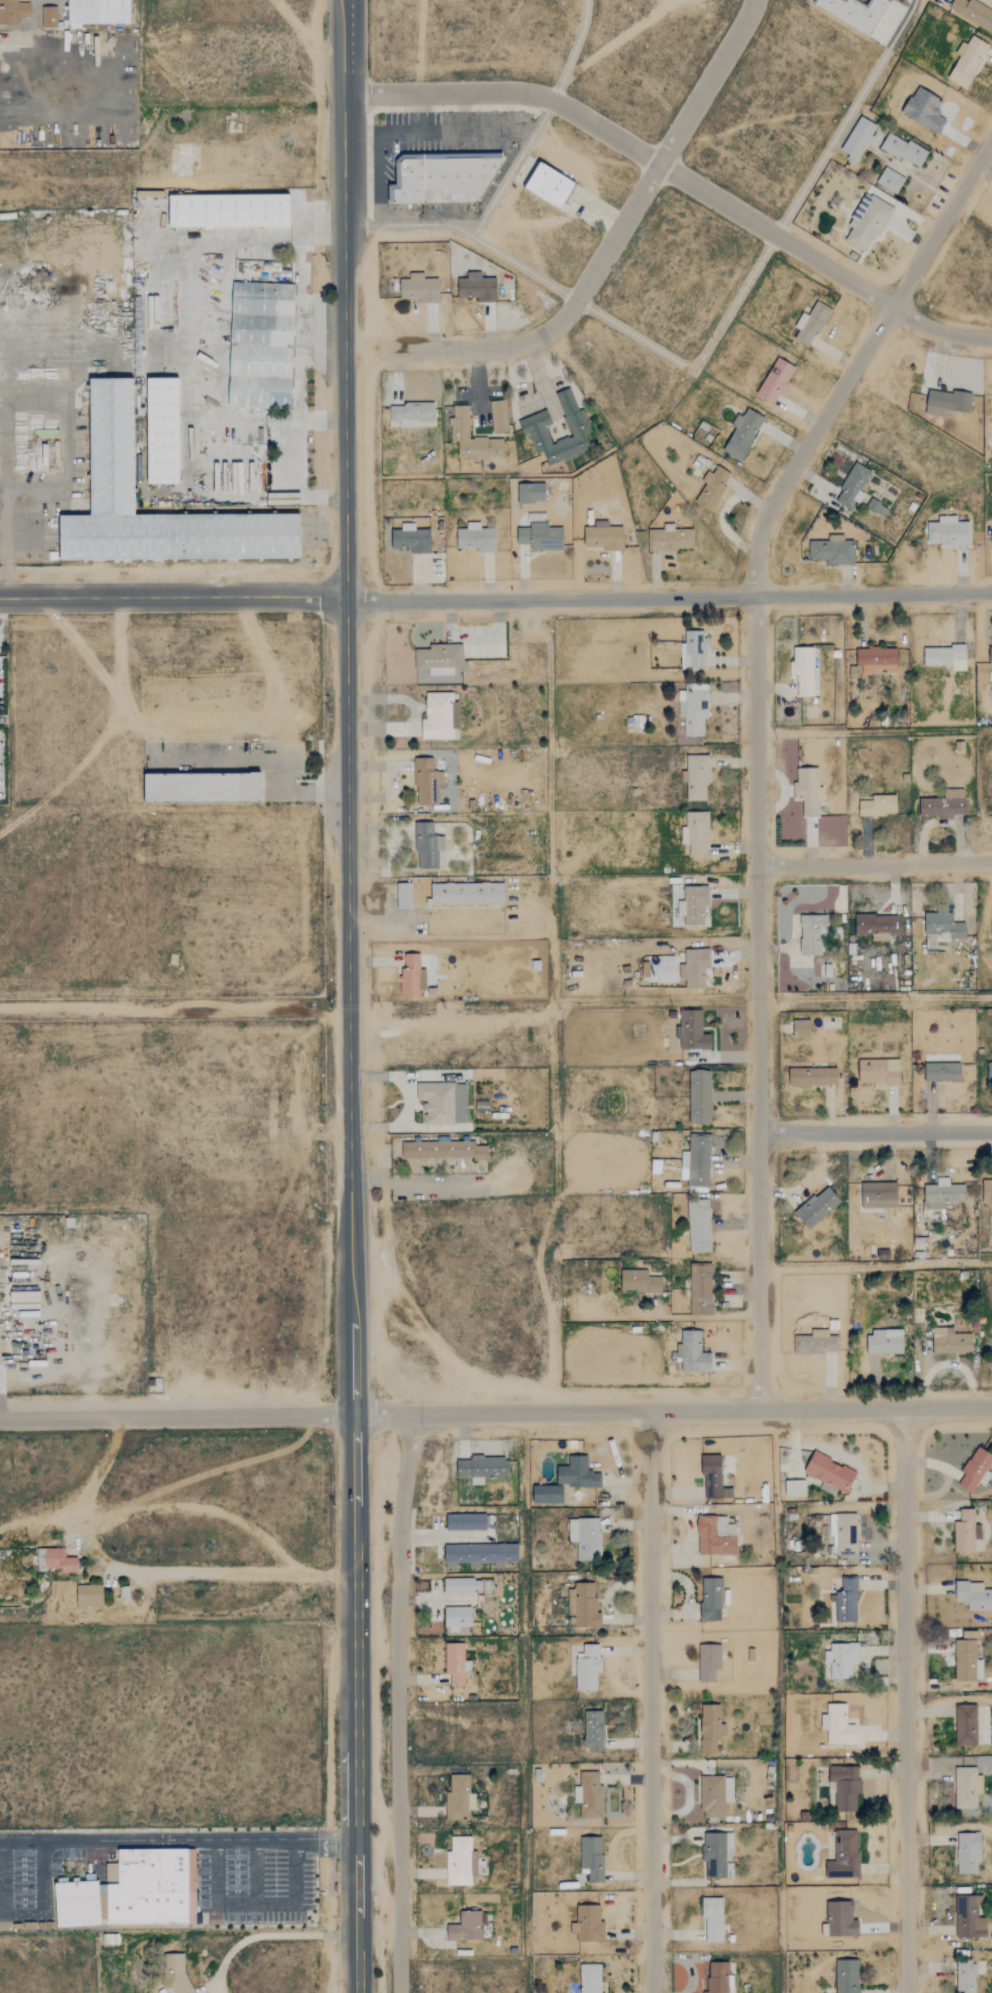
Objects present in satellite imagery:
building: (13, 11)
building: (98, 12)
building: (855, 12)
building: (973, 12)
building: (48, 16)
road: (618, 39)
road: (574, 51)
building: (968, 62)
building: (923, 110)
road: (846, 117)
building: (857, 138)
building: (904, 149)
road: (513, 168)
road: (680, 174)
building: (443, 177)
building: (890, 180)
building: (549, 185)
building: (229, 210)
building: (866, 222)
road: (601, 256)
building: (477, 287)
building: (419, 288)
road: (346, 299)
road: (594, 312)
building: (811, 323)
building: (260, 345)
building: (775, 380)
building: (946, 401)
building: (411, 413)
building: (498, 415)
building: (459, 427)
building: (535, 429)
building: (162, 430)
building: (742, 433)
building: (111, 444)
building: (853, 485)
building: (712, 487)
building: (531, 492)
road: (7, 506)
building: (948, 532)
building: (541, 536)
building: (603, 536)
building: (991, 537)
building: (476, 538)
building: (410, 539)
building: (671, 539)
building: (832, 550)
road: (668, 597)
road: (173, 598)
building: (693, 650)
building: (990, 655)
building: (946, 657)
building: (876, 659)
building: (439, 664)
building: (803, 670)
building: (855, 672)
building: (693, 708)
building: (439, 716)
road: (756, 743)
road: (260, 762)
building: (697, 777)
building: (425, 781)
building: (202, 787)
building: (808, 790)
building: (877, 805)
building: (944, 805)
building: (695, 832)
building: (427, 846)
road: (874, 864)
building: (467, 894)
building: (403, 896)
road: (384, 904)
building: (694, 905)
building: (878, 924)
building: (944, 924)
building: (813, 934)
building: (694, 967)
building: (411, 977)
road: (875, 997)
road: (174, 1013)
building: (801, 1028)
building: (692, 1031)
building: (989, 1071)
building: (878, 1072)
building: (942, 1072)
building: (812, 1076)
building: (699, 1098)
building: (442, 1103)
road: (876, 1131)
building: (443, 1150)
building: (696, 1161)
road: (350, 1171)
road: (416, 1183)
building: (986, 1191)
building: (878, 1195)
building: (939, 1199)
building: (817, 1207)
building: (699, 1226)
road: (876, 1266)
building: (639, 1281)
building: (701, 1289)
building: (24, 1301)
building: (950, 1341)
building: (884, 1342)
building: (817, 1343)
building: (692, 1353)
road: (671, 1412)
road: (175, 1416)
building: (480, 1468)
building: (976, 1469)
road: (208, 1470)
building: (829, 1471)
building: (581, 1473)
building: (713, 1478)
building: (795, 1487)
building: (467, 1522)
building: (966, 1531)
building: (844, 1533)
building: (715, 1535)
building: (585, 1537)
building: (480, 1554)
building: (53, 1560)
road: (149, 1573)
building: (461, 1585)
building: (125, 1594)
building: (87, 1595)
building: (974, 1595)
building: (710, 1599)
building: (846, 1600)
building: (582, 1606)
building: (457, 1618)
building: (840, 1659)
building: (967, 1660)
building: (708, 1661)
building: (455, 1663)
building: (587, 1667)
road: (907, 1700)
road: (398, 1703)
road: (651, 1703)
building: (838, 1724)
building: (966, 1725)
building: (711, 1727)
building: (593, 1730)
building: (844, 1786)
building: (967, 1787)
road: (355, 1792)
building: (589, 1795)
building: (715, 1795)
building: (458, 1797)
road: (145, 1840)
road: (324, 1840)
building: (968, 1852)
building: (717, 1855)
building: (844, 1855)
building: (592, 1857)
building: (460, 1861)
road: (356, 1866)
road: (253, 1871)
road: (0, 1879)
road: (42, 1879)
building: (153, 1887)
parking lot: (254, 1893)
building: (77, 1903)
road: (255, 1903)
building: (969, 1917)
building: (712, 1920)
building: (841, 1921)
building: (588, 1924)
building: (466, 1927)
road: (267, 1935)
road: (356, 1943)
building: (171, 1973)
building: (847, 1976)
building: (966, 1977)
building: (589, 1978)
building: (717, 1978)

